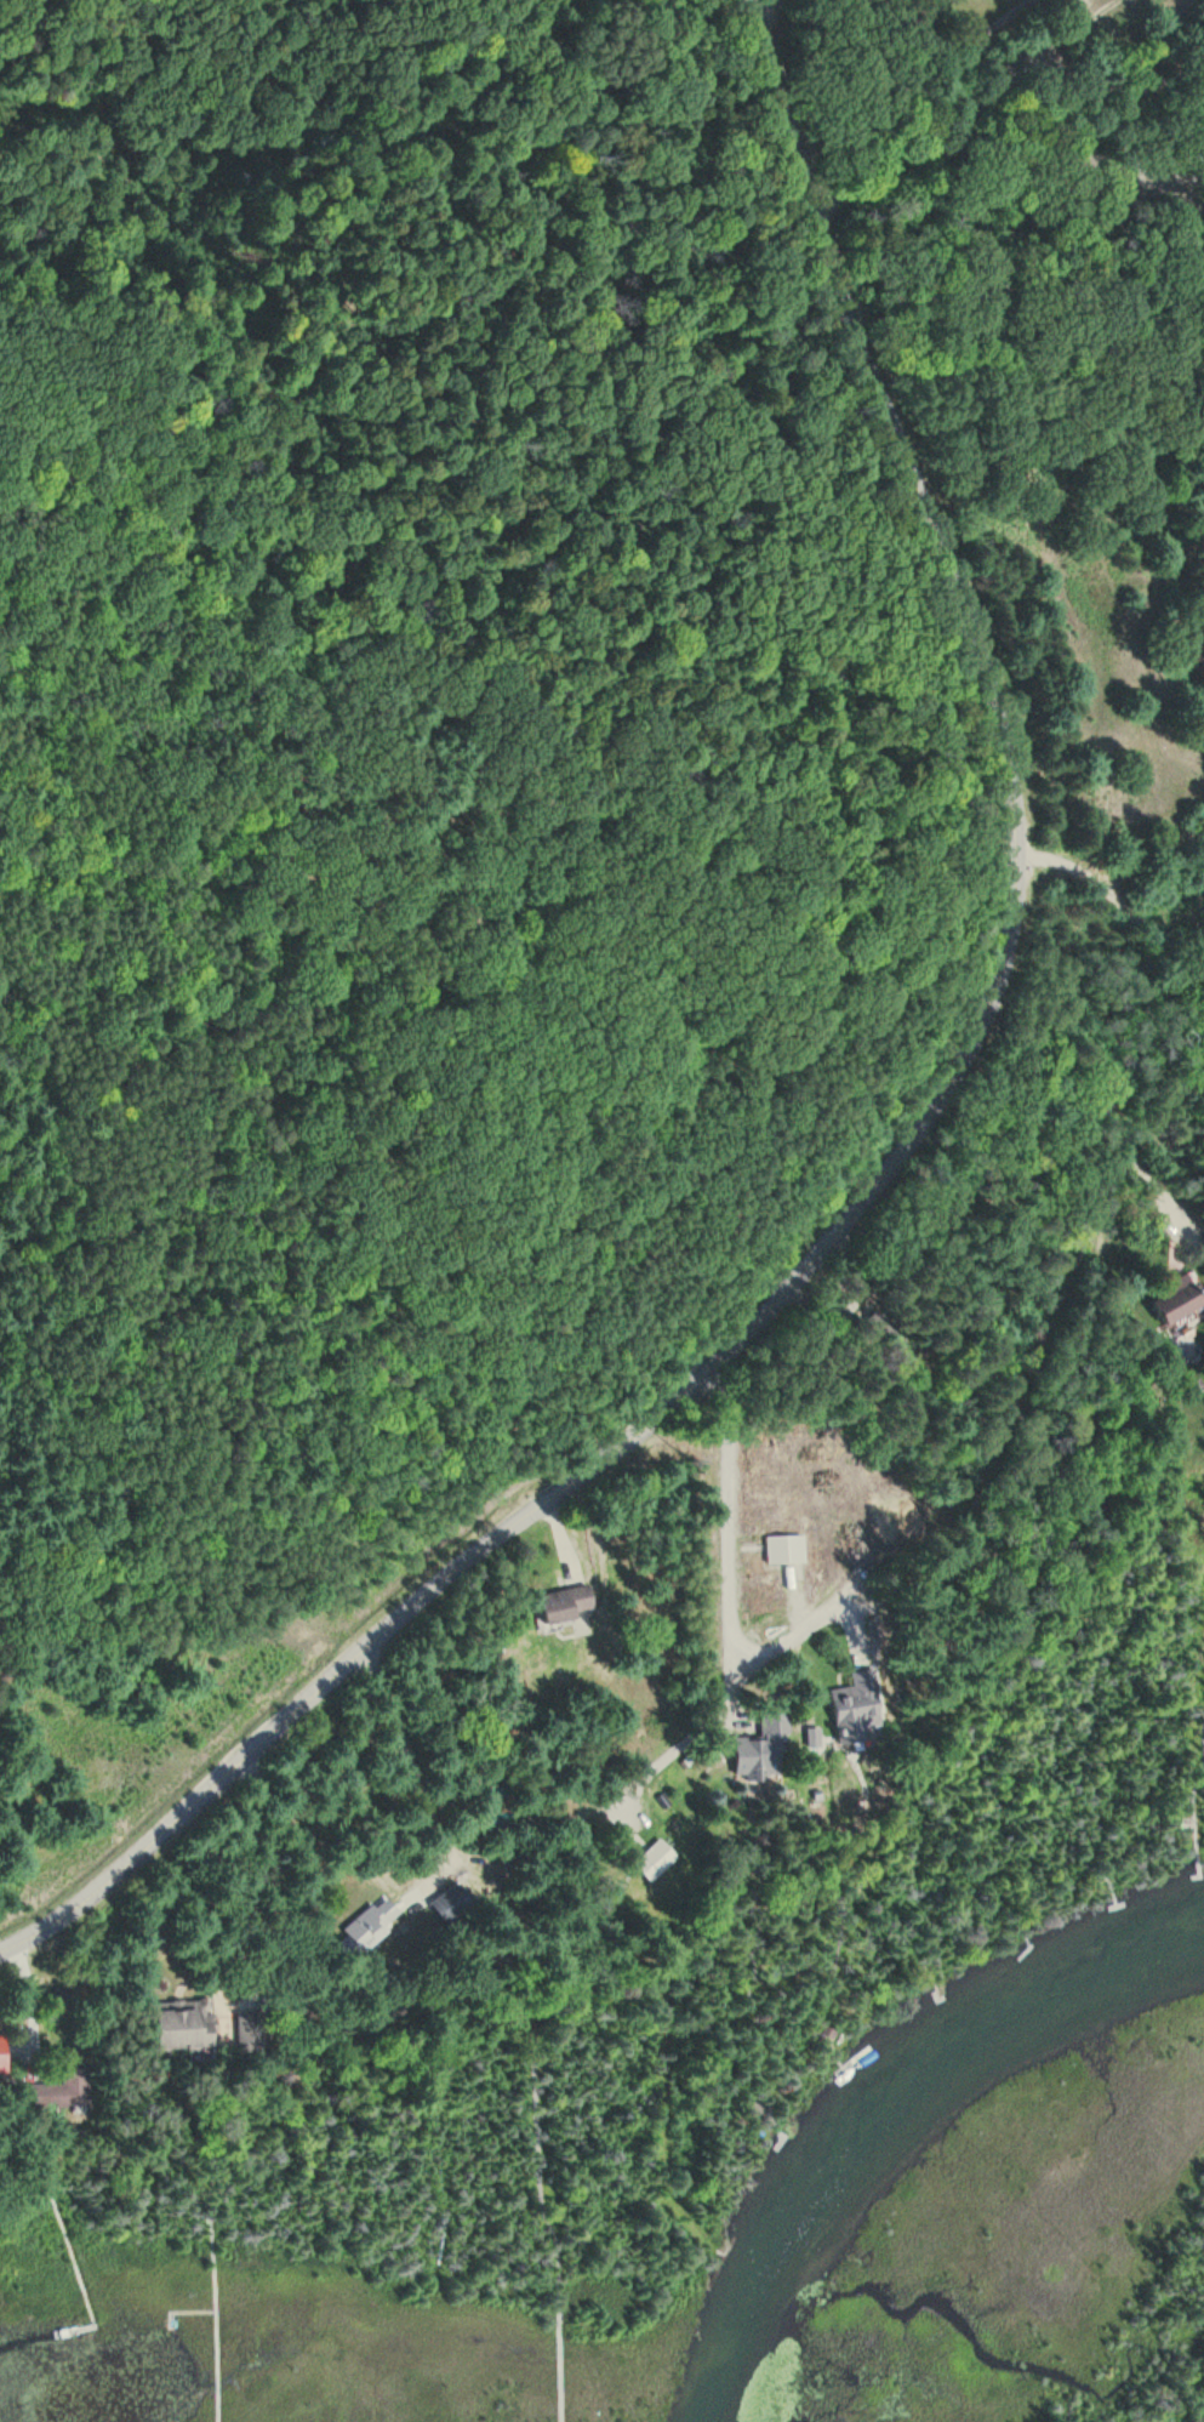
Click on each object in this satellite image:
road: (768, 8)
road: (1077, 32)
road: (909, 76)
road: (1014, 81)
road: (1142, 93)
road: (1021, 284)
road: (1164, 1031)
road: (898, 1141)
building: (1180, 1295)
road: (1203, 1494)
building: (787, 1549)
road: (730, 1585)
building: (574, 1602)
road: (1200, 1643)
building: (856, 1698)
road: (690, 1734)
building: (760, 1750)
road: (1196, 1765)
building: (654, 1859)
road: (247, 1880)
building: (452, 1904)
building: (367, 1928)
road: (29, 2008)
building: (183, 2025)
building: (61, 2092)
river: (892, 2110)

